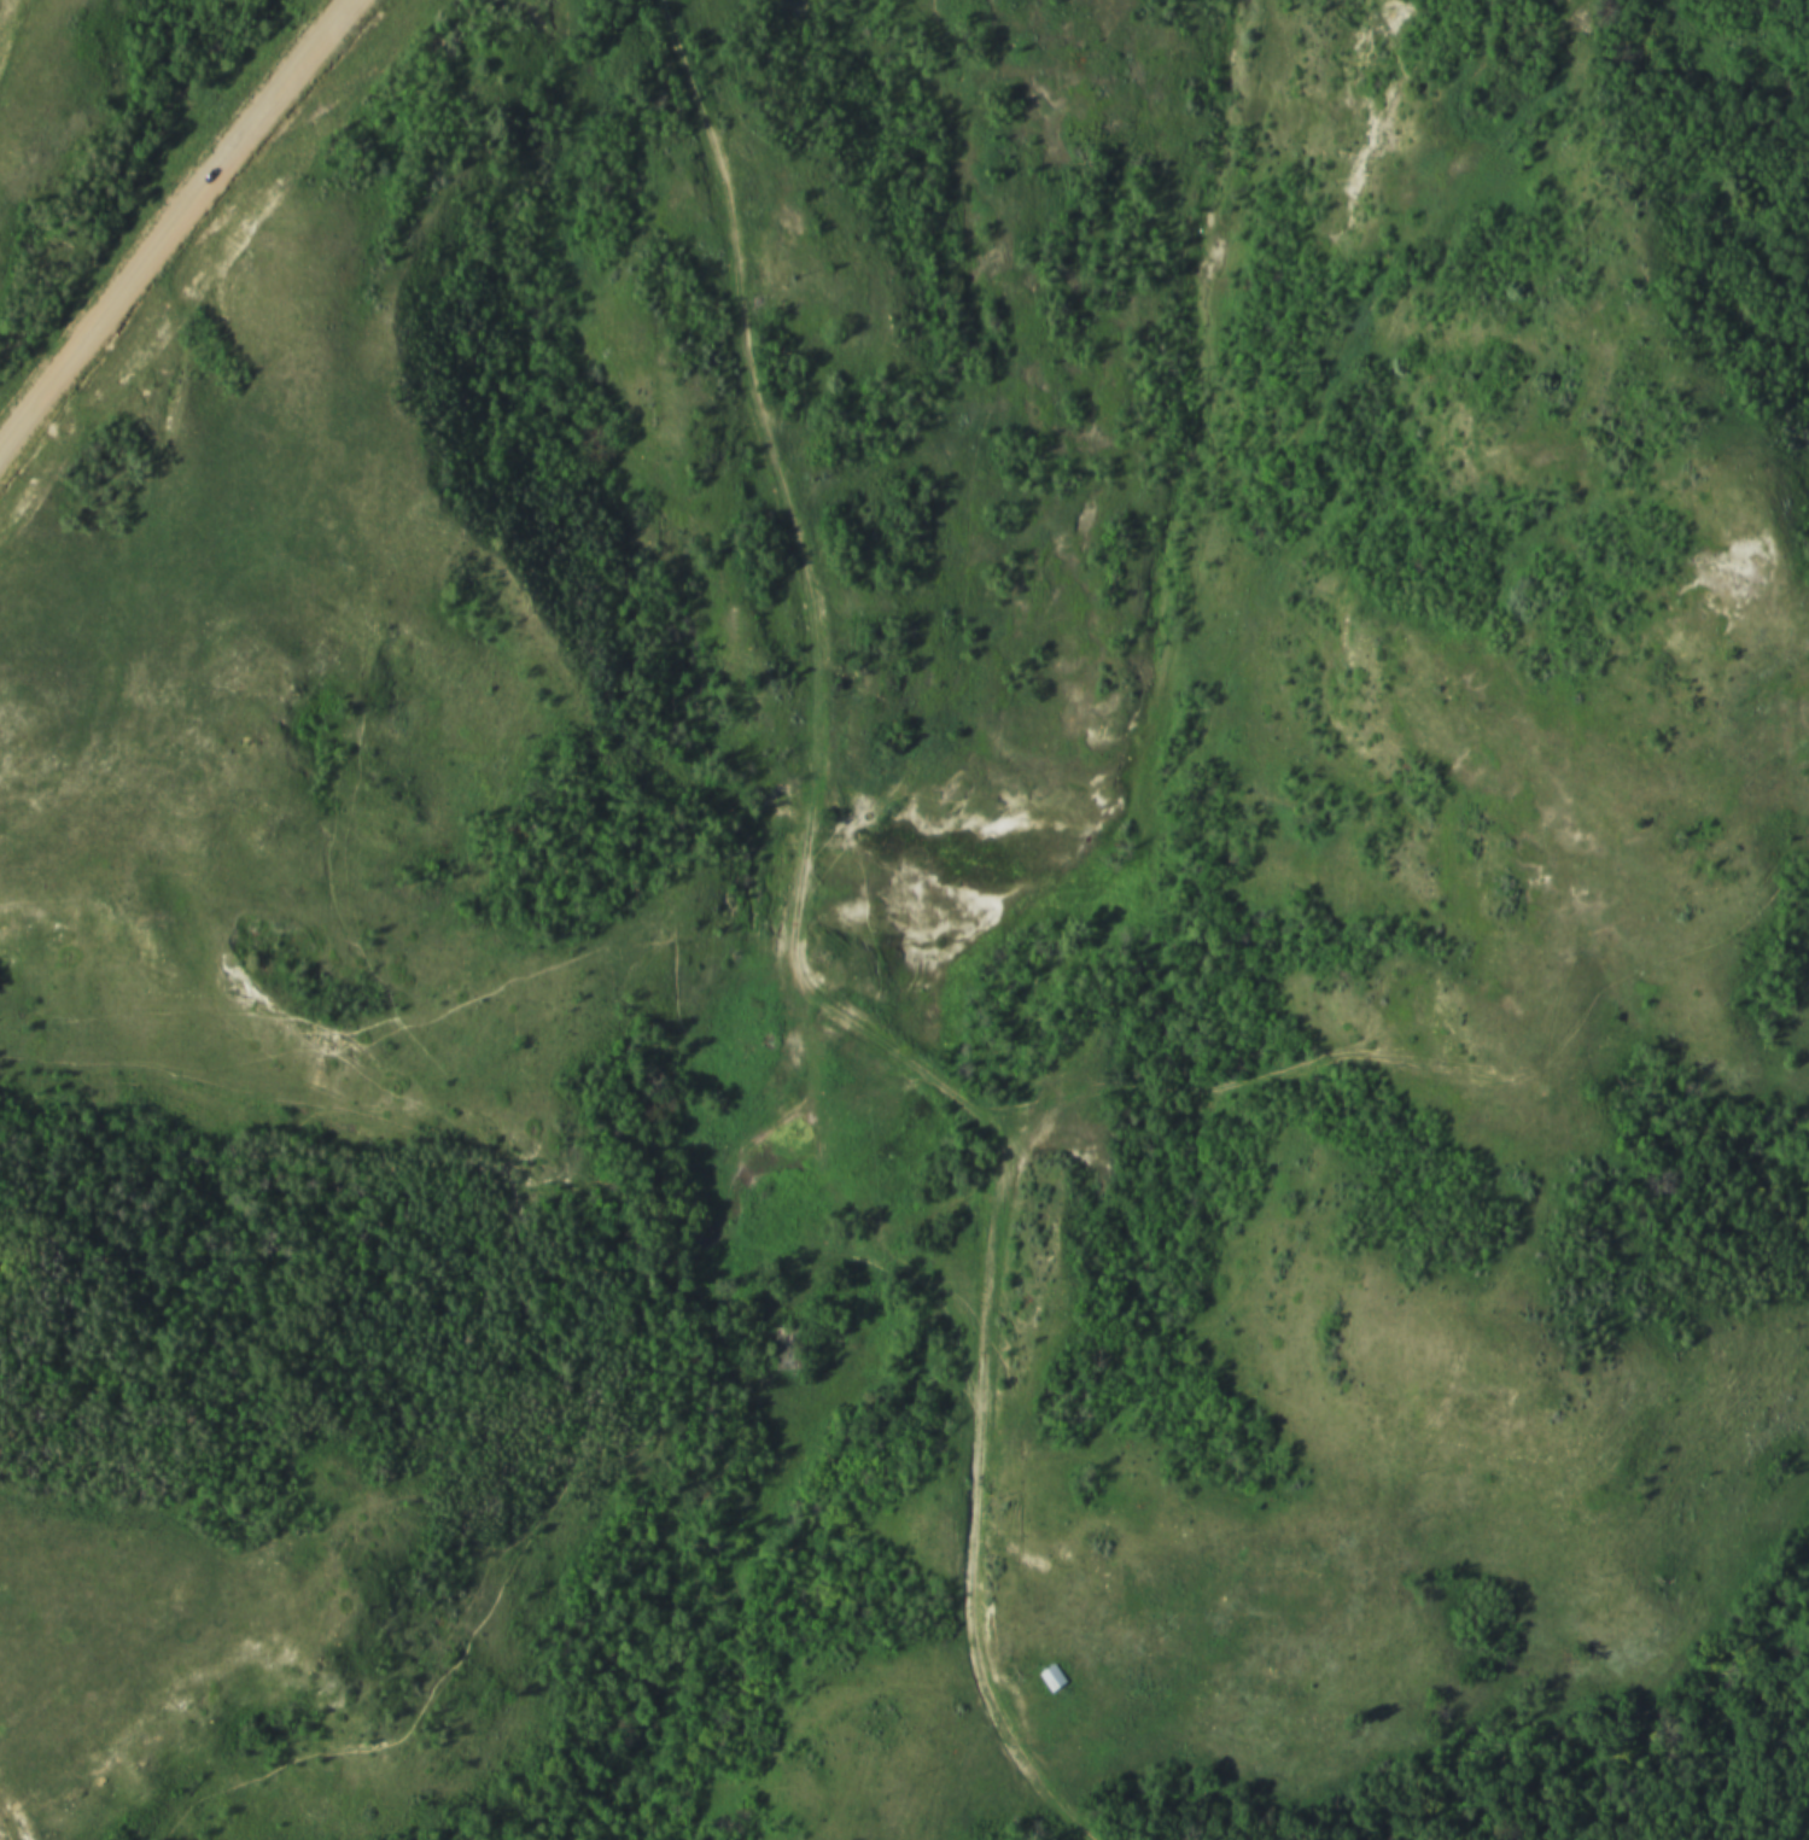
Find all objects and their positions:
road: (185, 228)
road: (823, 689)
road: (920, 1068)
road: (999, 1182)
building: (1045, 1676)

